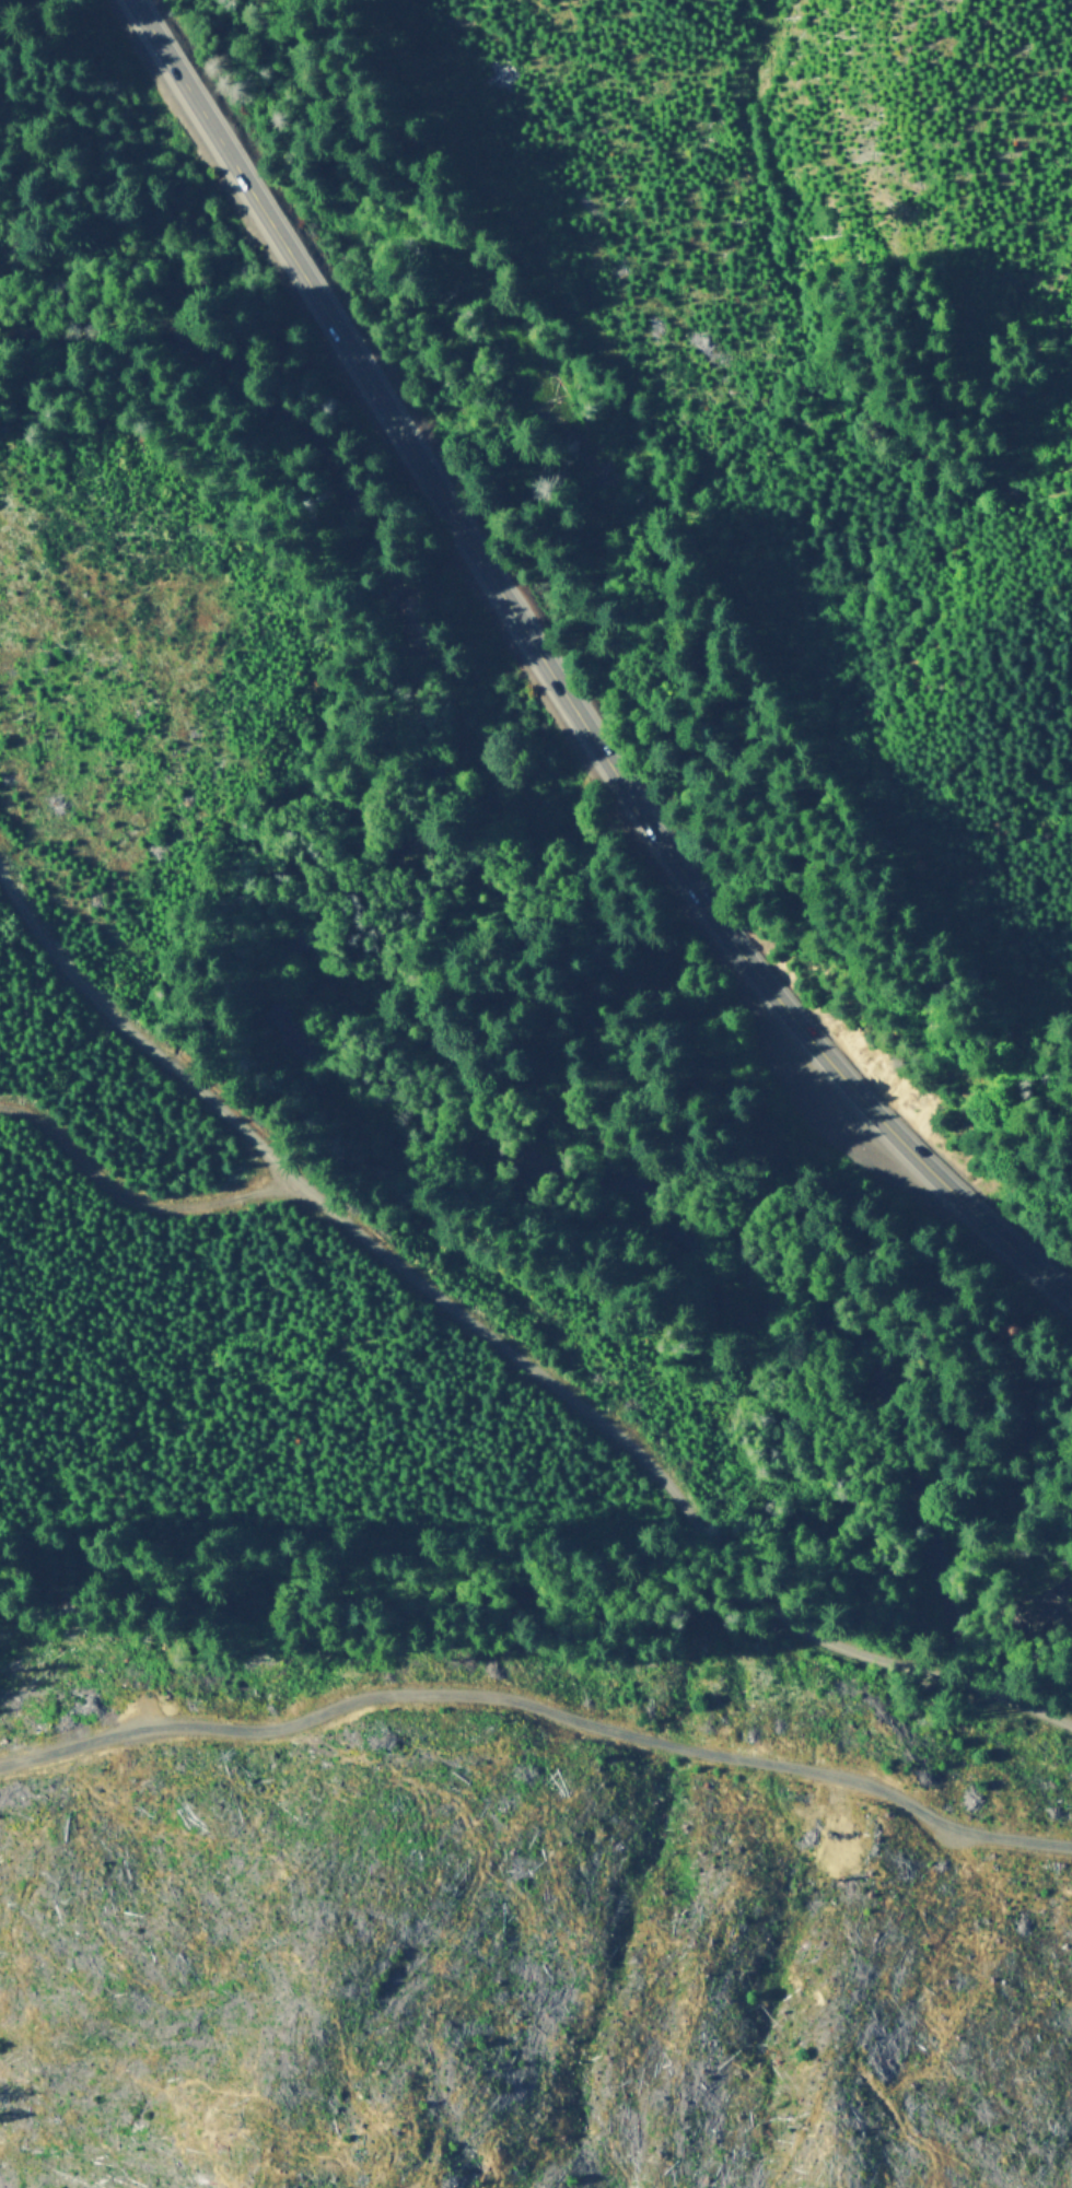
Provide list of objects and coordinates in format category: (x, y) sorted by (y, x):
road: (186, 81)
road: (504, 593)
road: (871, 822)
road: (924, 1158)
road: (141, 1202)
road: (502, 1341)

